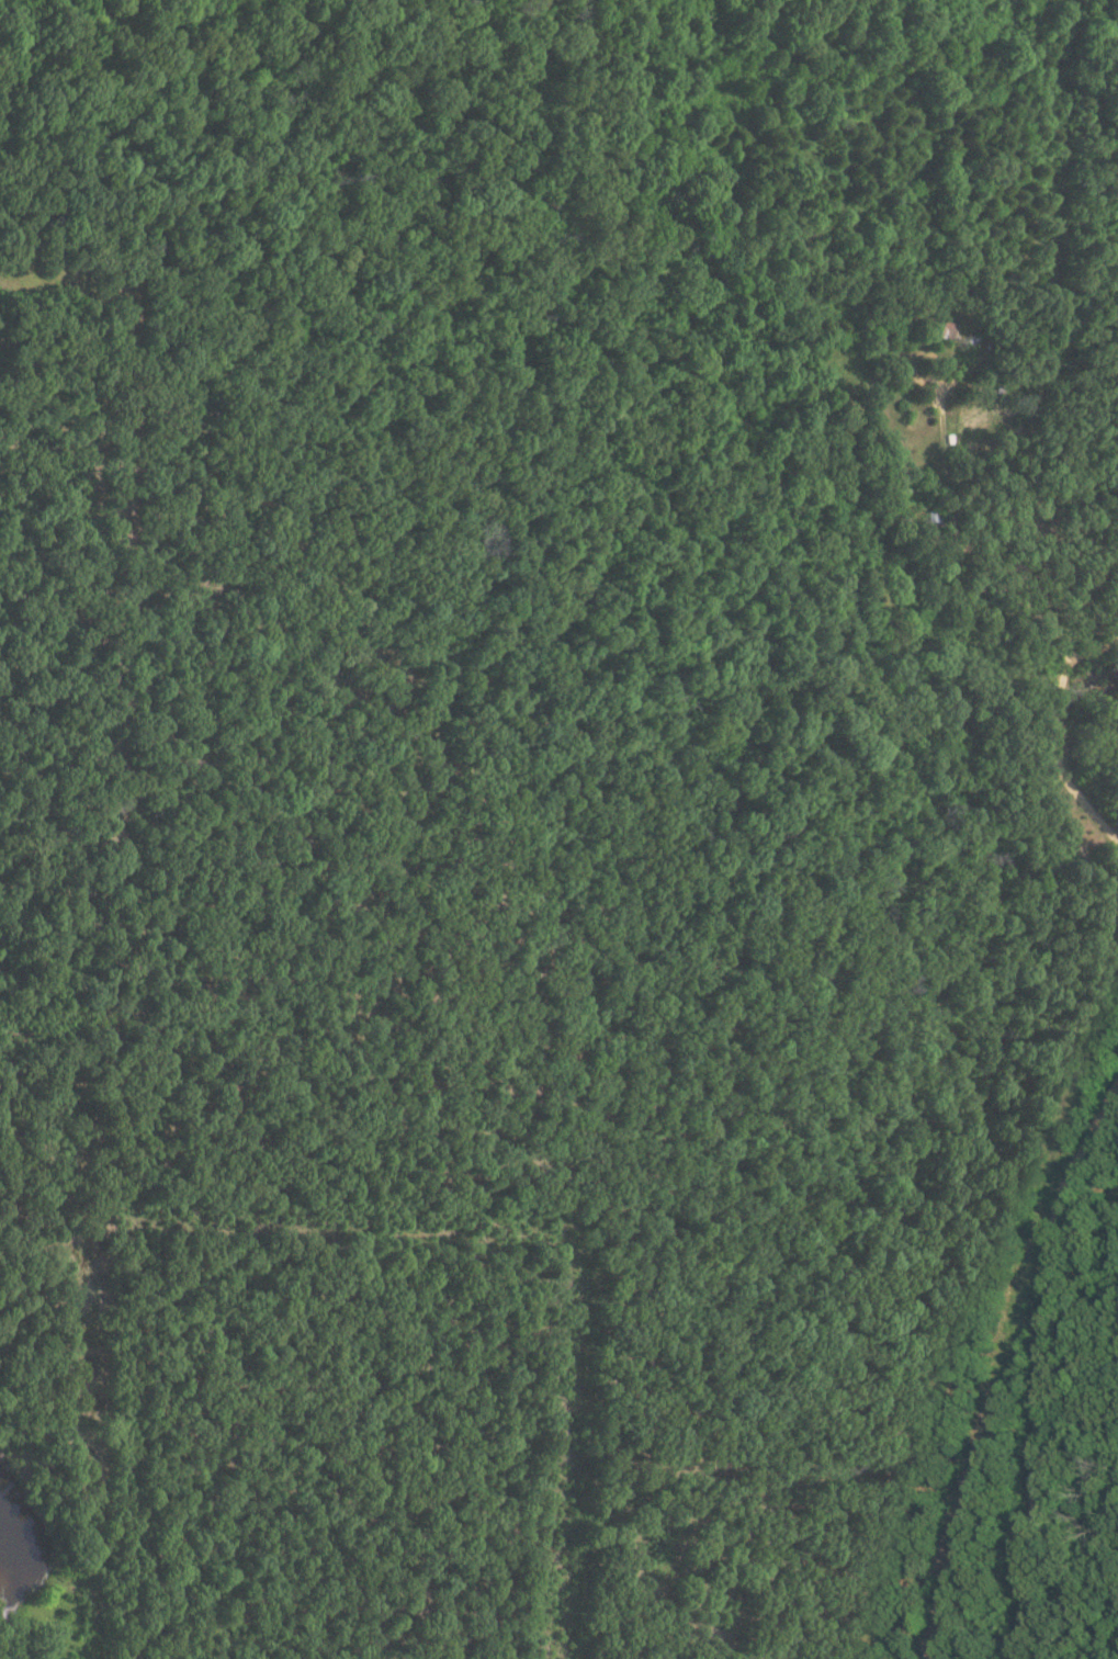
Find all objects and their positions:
building: (929, 521)
road: (1043, 1366)

